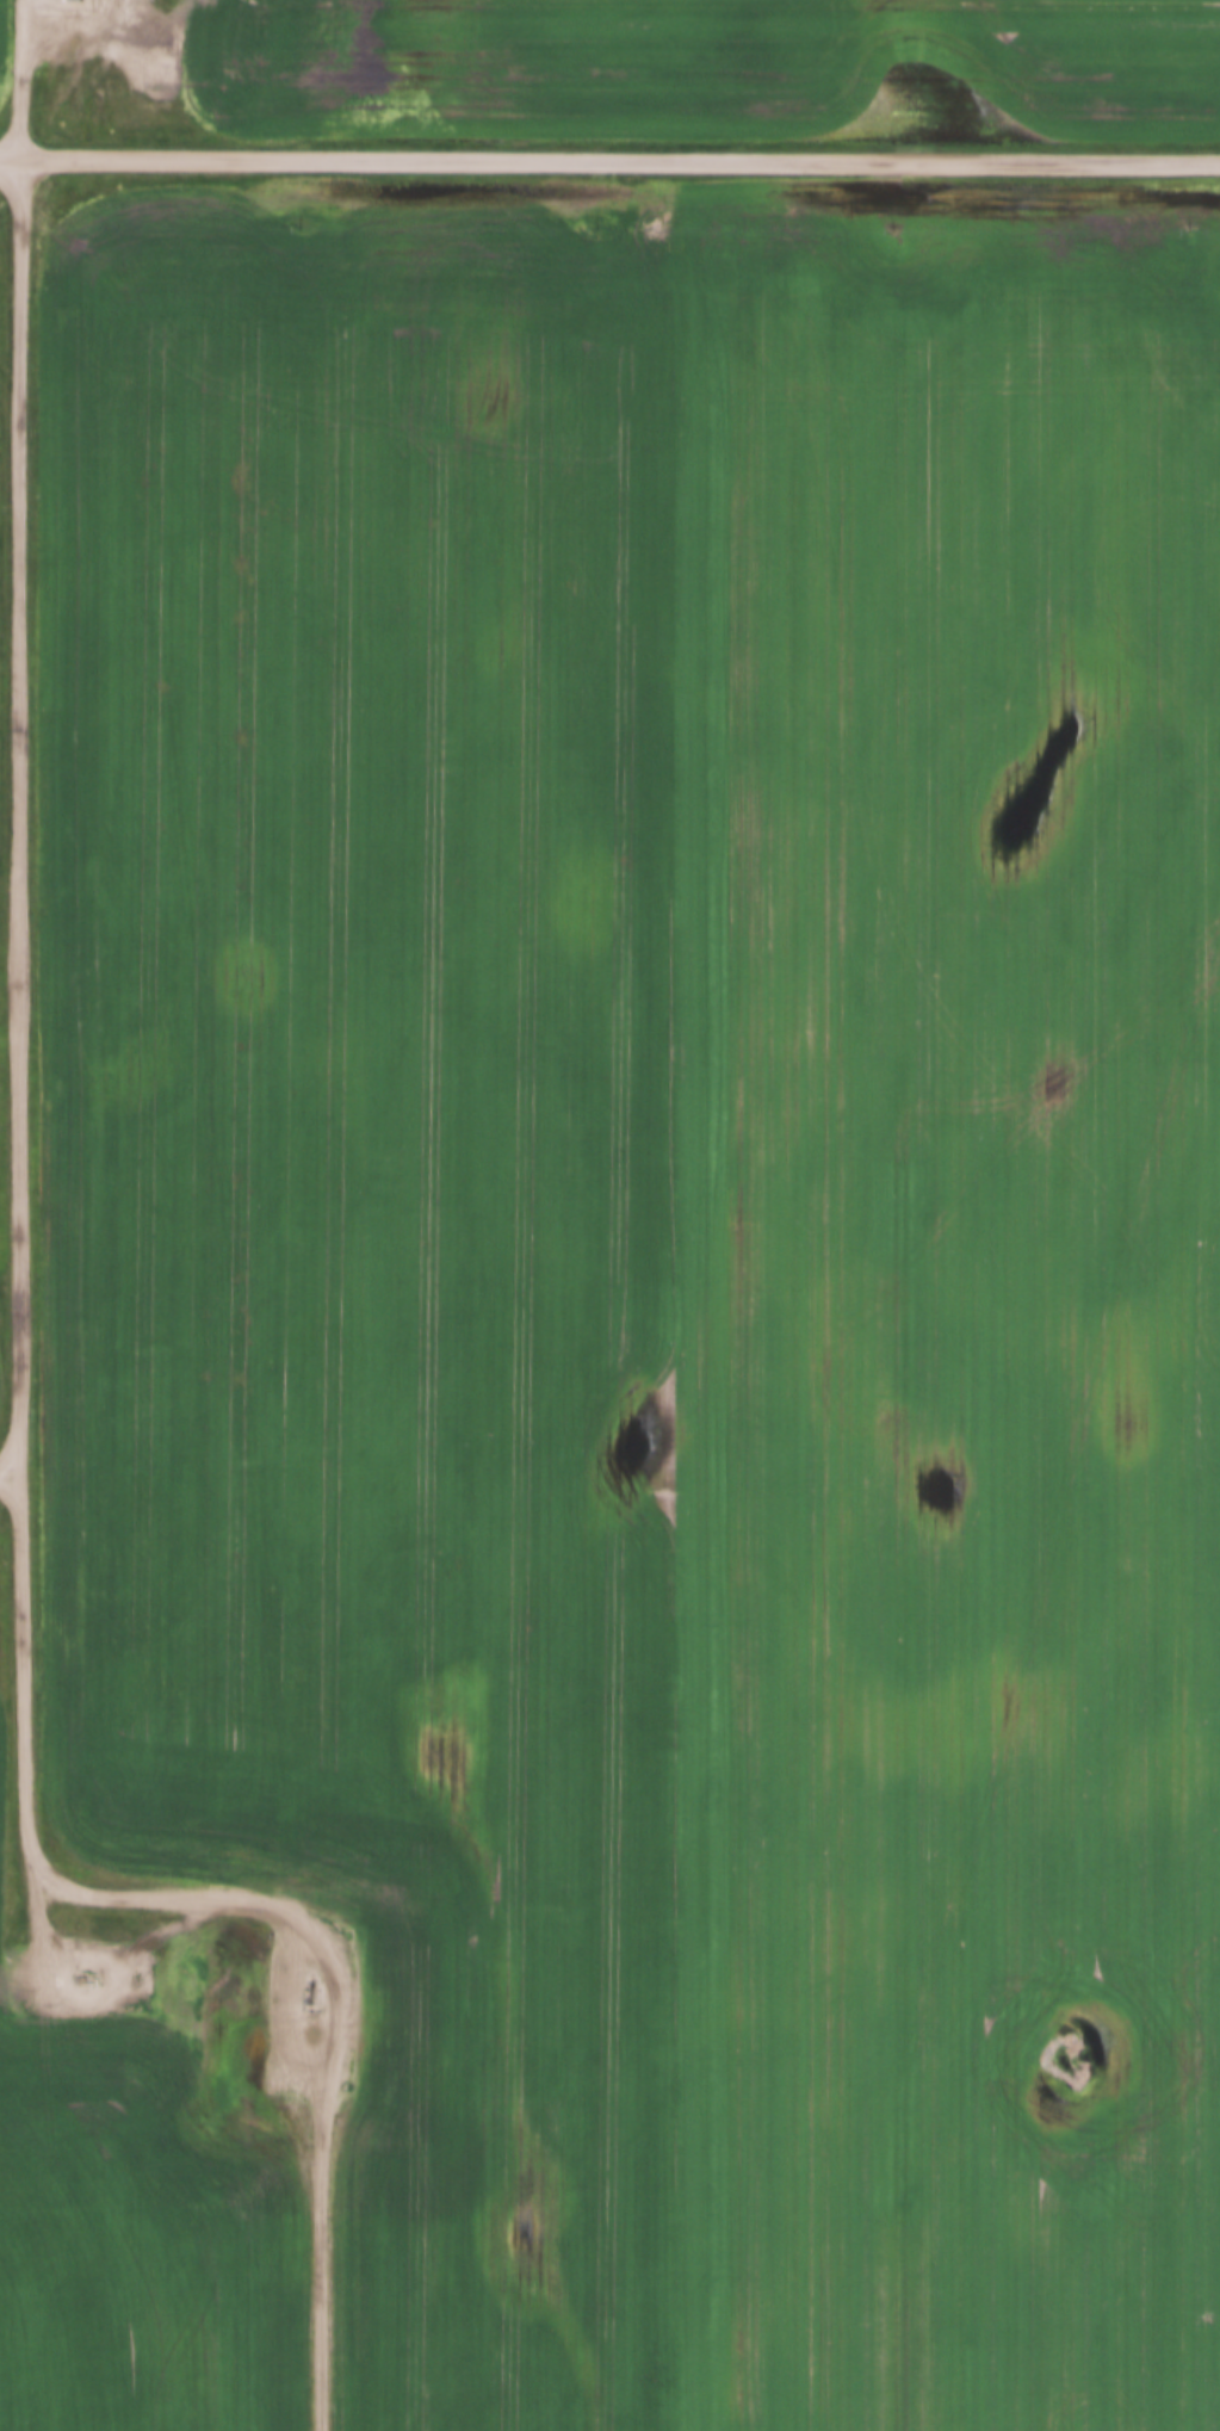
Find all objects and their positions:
road: (609, 154)
road: (20, 989)
road: (11, 1472)
road: (191, 1889)

